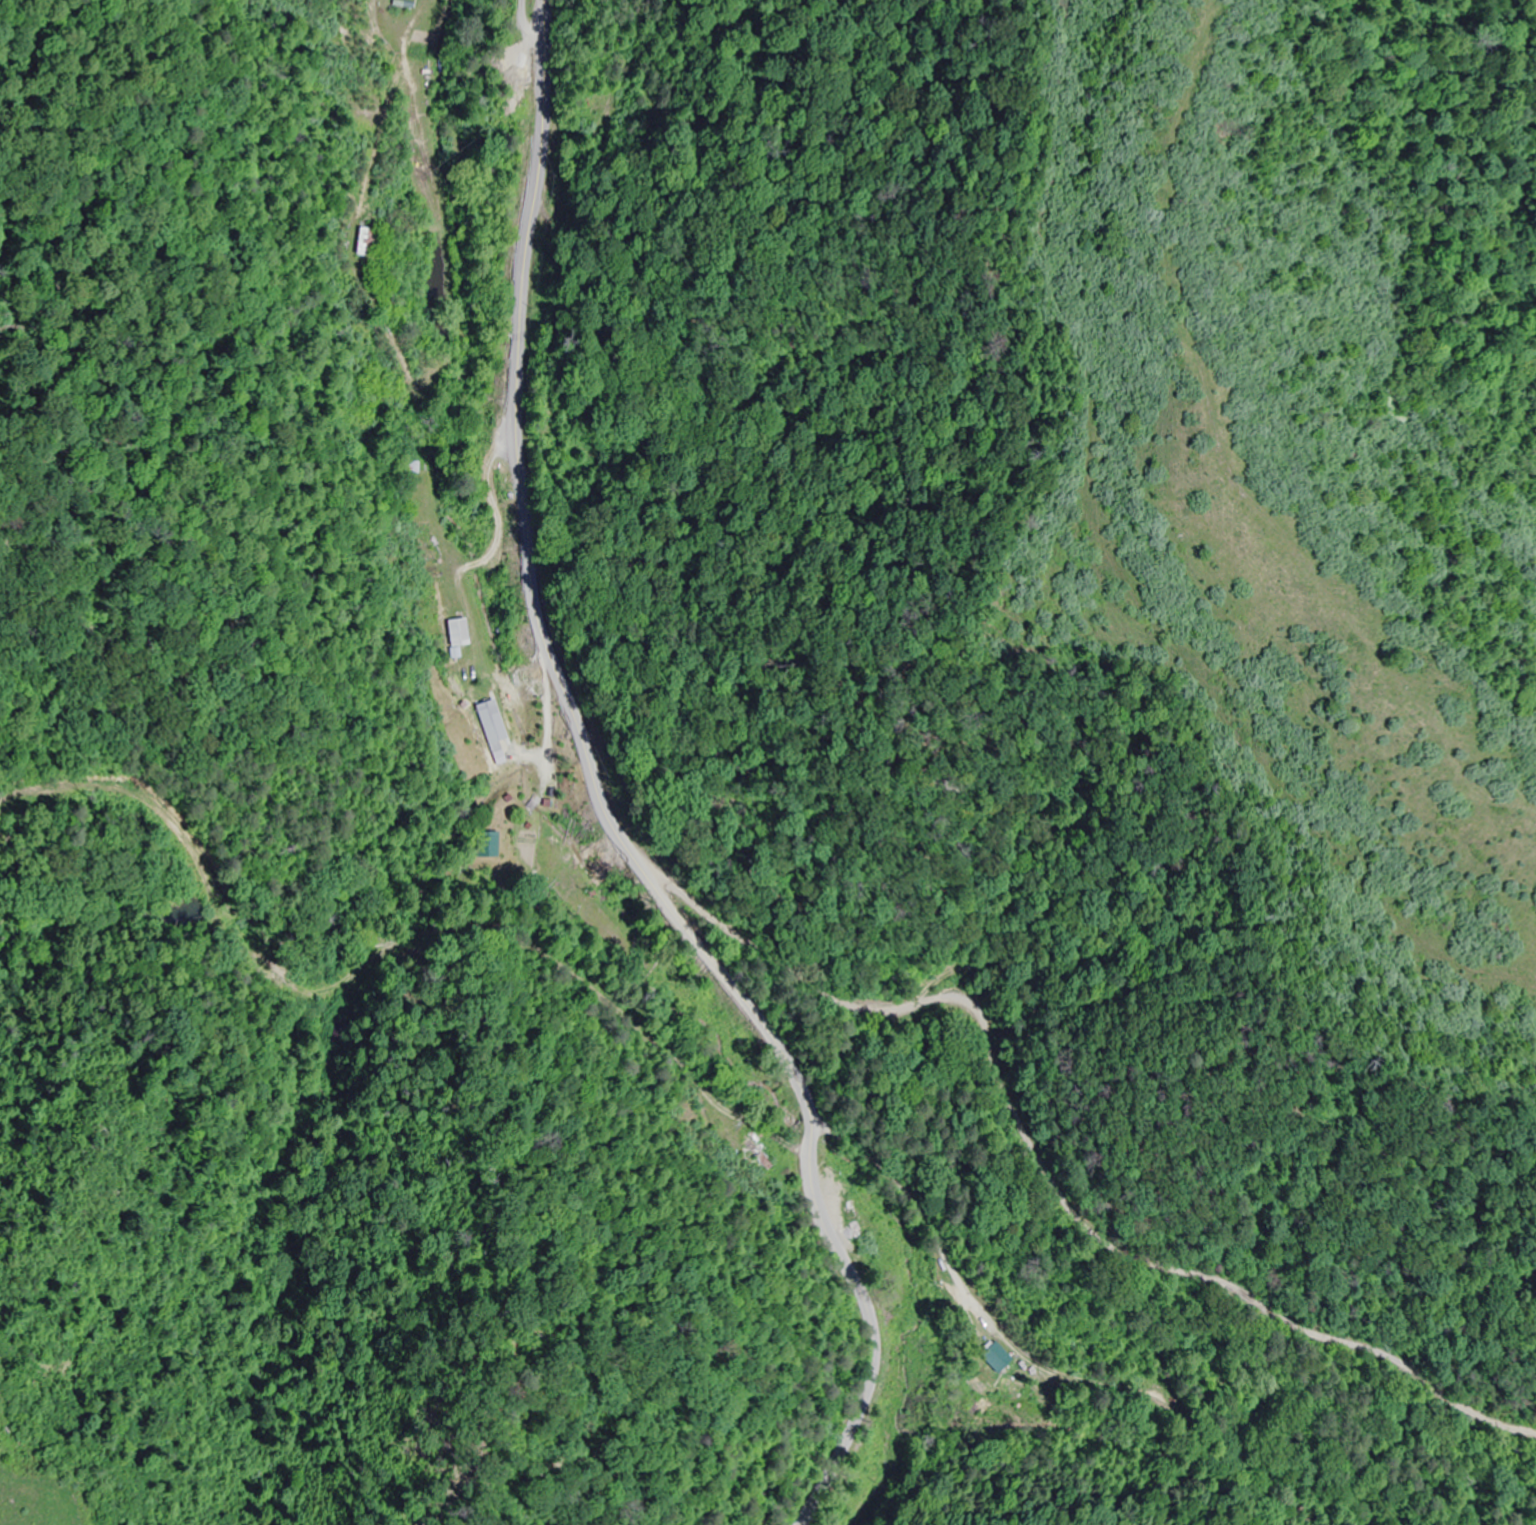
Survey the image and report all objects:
building: (358, 241)
building: (458, 634)
building: (470, 673)
road: (548, 706)
building: (491, 722)
road: (836, 755)
road: (605, 800)
building: (489, 844)
road: (815, 1046)
road: (970, 1098)
building: (760, 1154)
building: (853, 1221)
building: (994, 1355)

